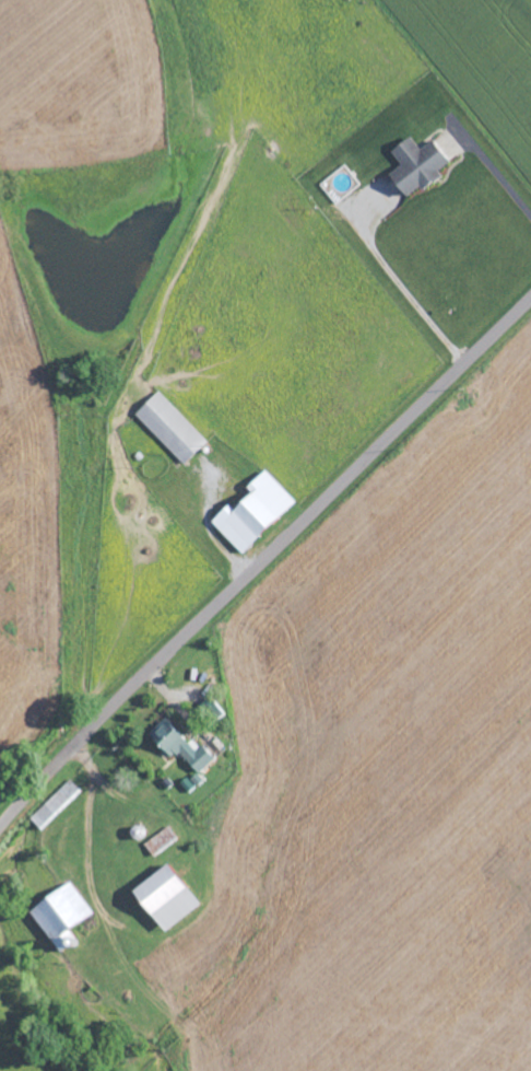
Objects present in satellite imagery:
building: (416, 164)
building: (170, 427)
building: (255, 512)
road: (262, 556)
building: (184, 746)
building: (168, 897)
building: (62, 913)

